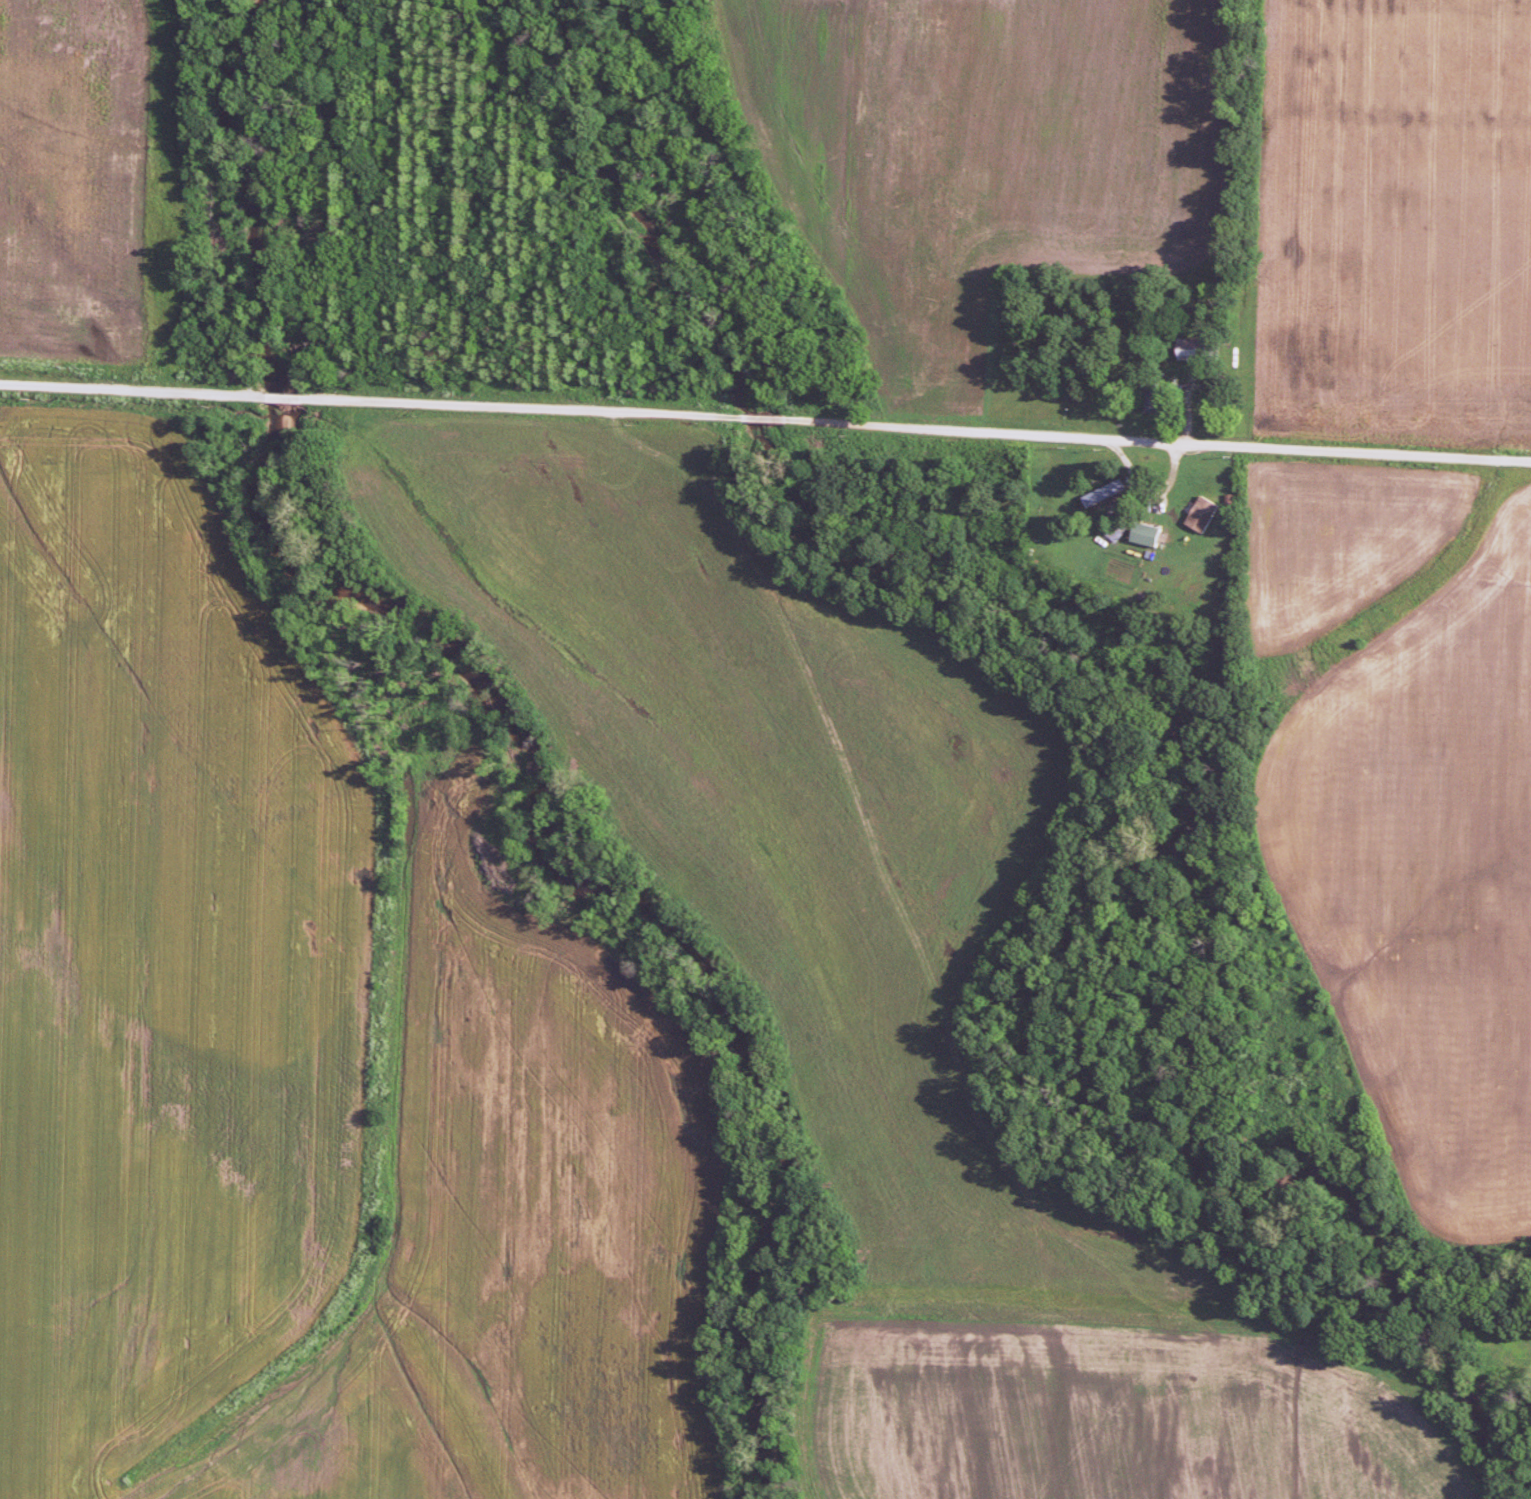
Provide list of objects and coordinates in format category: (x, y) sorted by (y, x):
road: (765, 414)
building: (1107, 489)

